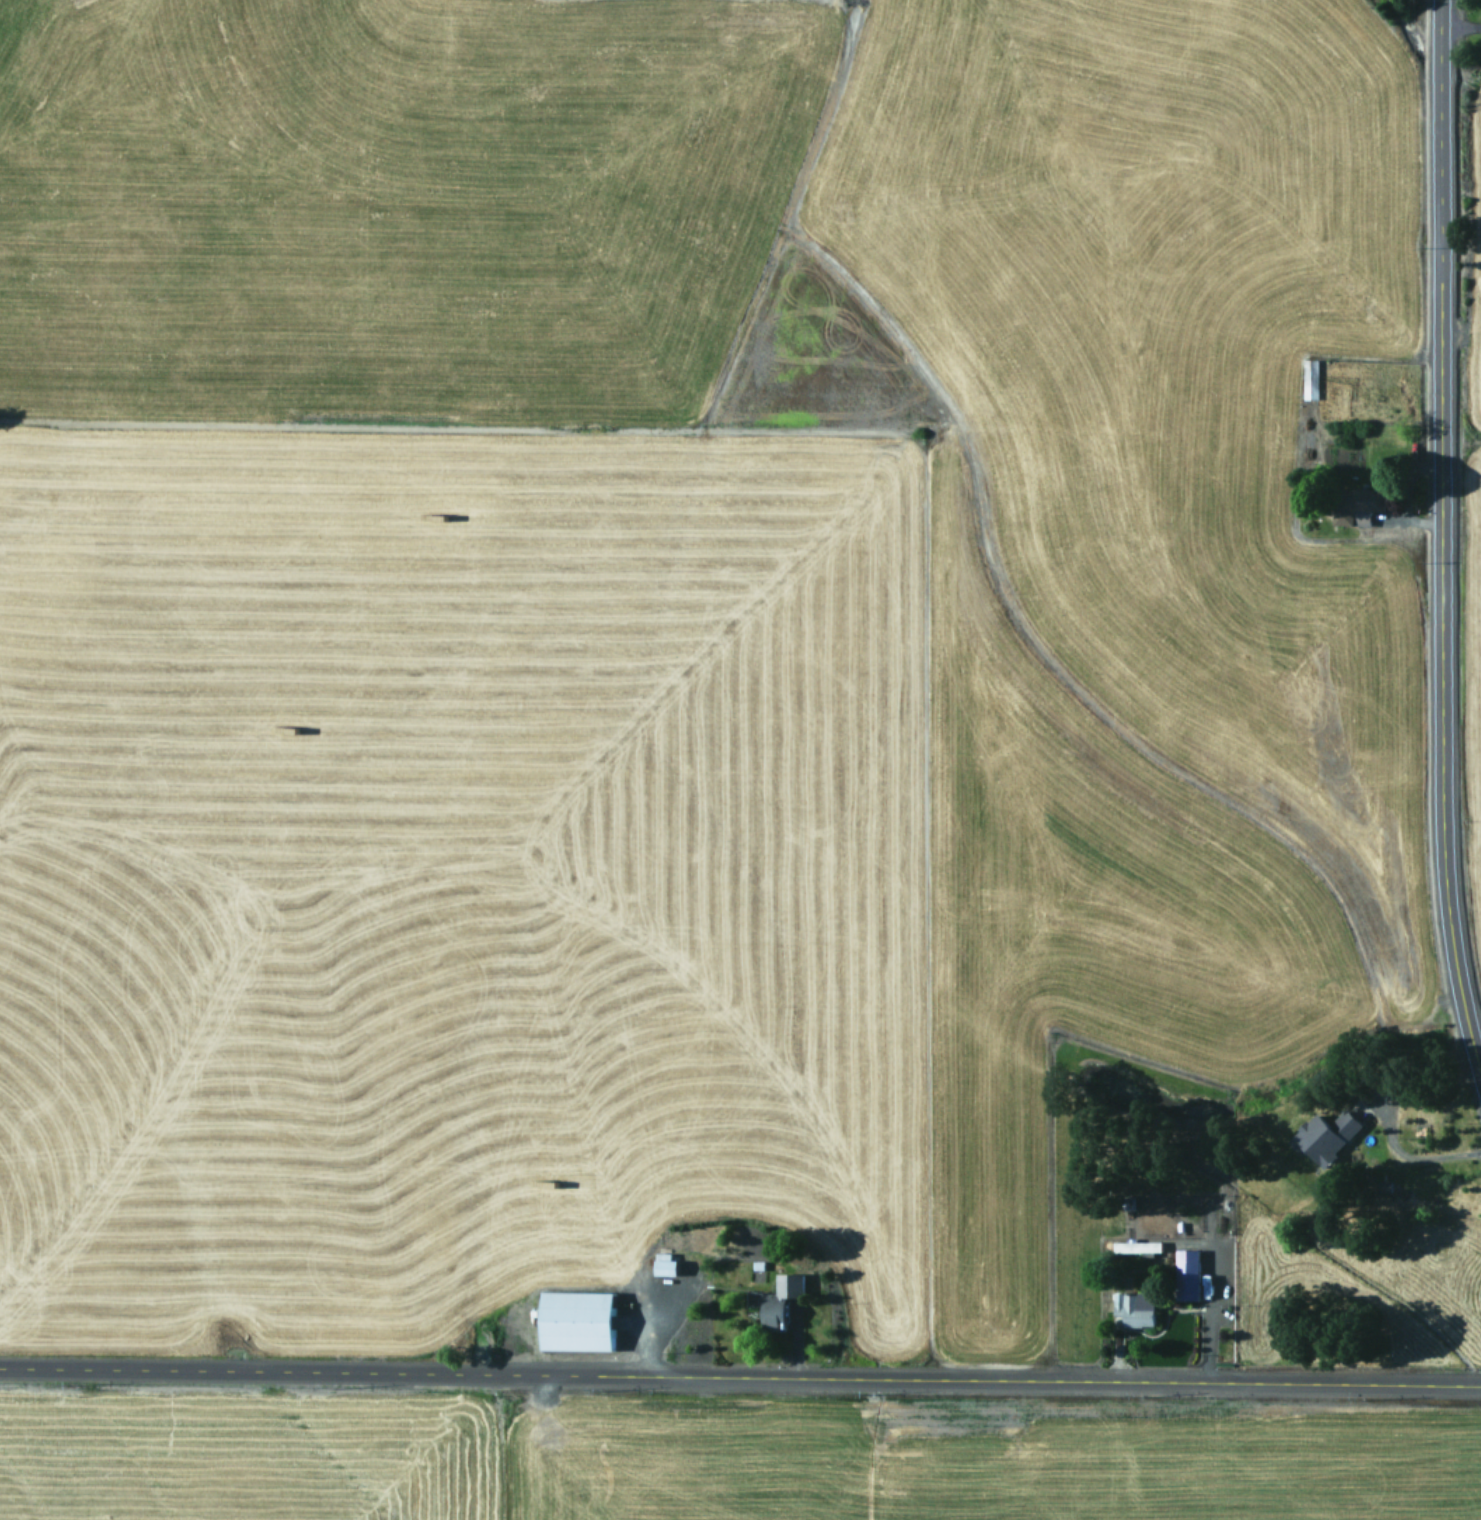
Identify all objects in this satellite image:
building: (1310, 378)
crop: (1475, 479)
building: (1358, 506)
road: (1435, 550)
crop: (711, 770)
building: (1325, 1136)
building: (1137, 1247)
building: (665, 1265)
building: (1187, 1275)
building: (755, 1299)
building: (781, 1301)
building: (1135, 1308)
building: (577, 1321)
road: (740, 1373)

